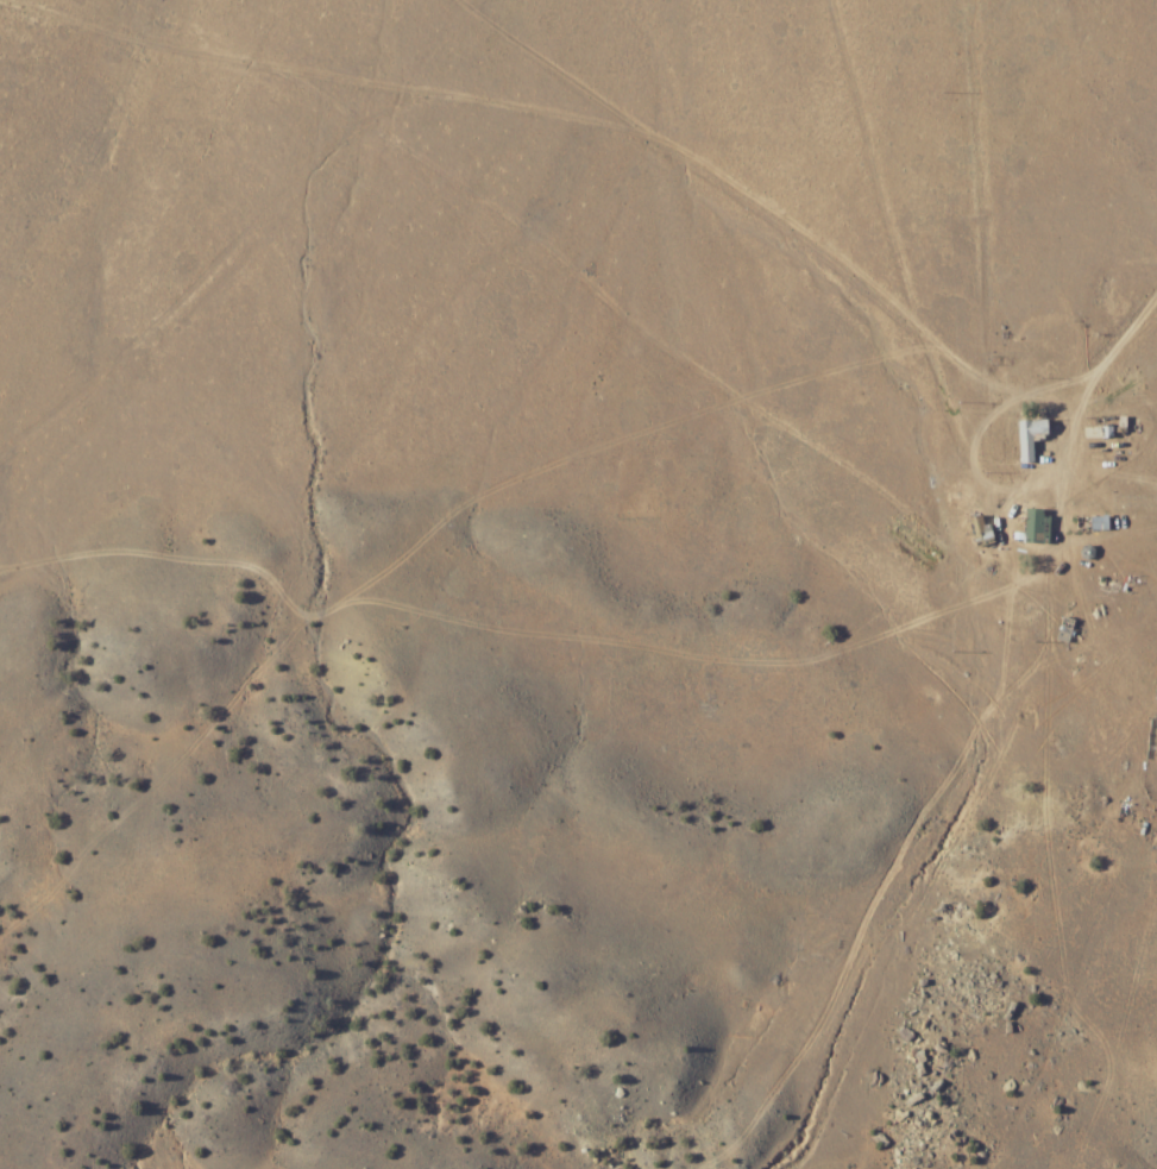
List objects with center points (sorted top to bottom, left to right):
road: (329, 75)
road: (687, 156)
road: (873, 159)
road: (240, 256)
road: (1033, 390)
building: (1031, 436)
building: (1100, 522)
building: (1037, 524)
building: (980, 528)
building: (1065, 629)

